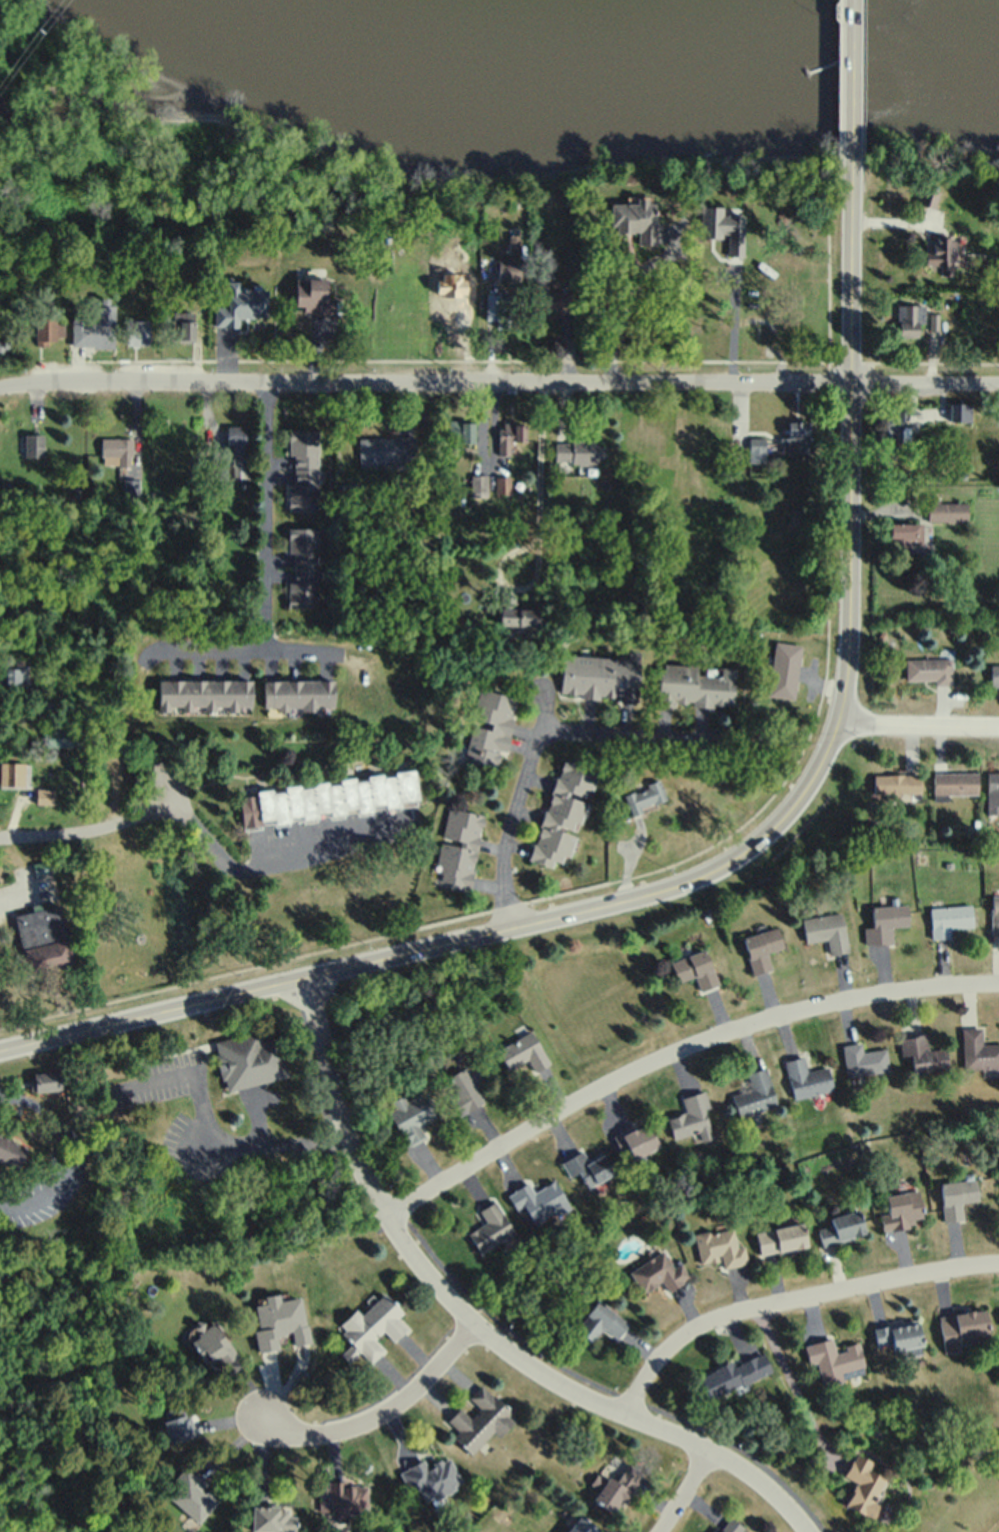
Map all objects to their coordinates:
road: (853, 91)
building: (927, 199)
building: (645, 221)
road: (895, 223)
building: (725, 228)
building: (516, 245)
building: (945, 255)
building: (508, 271)
building: (772, 276)
building: (313, 298)
building: (564, 305)
building: (238, 308)
building: (505, 313)
building: (908, 320)
building: (933, 321)
building: (182, 326)
building: (46, 330)
building: (90, 333)
building: (135, 333)
building: (4, 346)
building: (755, 350)
street lamp: (204, 367)
road: (424, 385)
road: (924, 386)
building: (959, 412)
road: (207, 422)
building: (896, 428)
building: (459, 433)
building: (511, 437)
building: (797, 439)
building: (33, 447)
building: (384, 451)
building: (756, 451)
building: (238, 452)
building: (115, 453)
building: (582, 454)
building: (214, 471)
building: (303, 471)
building: (477, 483)
building: (502, 486)
building: (129, 489)
building: (348, 489)
building: (6, 490)
building: (77, 495)
building: (946, 513)
road: (264, 518)
road: (540, 535)
building: (910, 538)
building: (302, 569)
building: (514, 612)
road: (243, 651)
building: (784, 671)
building: (929, 671)
building: (15, 673)
building: (602, 678)
building: (994, 679)
building: (695, 687)
building: (203, 695)
building: (300, 695)
building: (45, 707)
building: (490, 726)
road: (917, 727)
building: (63, 739)
street lamp: (866, 742)
road: (531, 751)
building: (13, 776)
building: (955, 784)
building: (898, 786)
building: (992, 795)
building: (45, 796)
building: (642, 799)
building: (326, 800)
road: (15, 813)
building: (562, 816)
road: (88, 831)
building: (456, 850)
road: (277, 863)
building: (43, 868)
street lamp: (666, 869)
road: (715, 870)
road: (24, 892)
parking lot: (28, 893)
street lamp: (529, 902)
building: (995, 915)
building: (950, 921)
building: (885, 925)
building: (827, 932)
building: (45, 939)
street lamp: (364, 942)
building: (762, 950)
building: (695, 970)
road: (674, 1047)
building: (977, 1049)
building: (526, 1051)
building: (922, 1053)
building: (863, 1059)
building: (249, 1062)
building: (806, 1077)
building: (45, 1084)
building: (463, 1087)
building: (754, 1093)
building: (412, 1116)
building: (690, 1116)
road: (254, 1118)
building: (636, 1138)
road: (220, 1143)
building: (10, 1151)
road: (57, 1152)
building: (586, 1165)
building: (956, 1195)
building: (537, 1201)
building: (902, 1208)
building: (841, 1226)
building: (492, 1231)
building: (780, 1238)
building: (719, 1246)
building: (657, 1272)
road: (787, 1294)
building: (600, 1320)
building: (278, 1323)
road: (478, 1324)
building: (374, 1327)
building: (963, 1328)
building: (899, 1333)
building: (212, 1345)
building: (834, 1358)
building: (733, 1372)
road: (790, 1380)
road: (605, 1388)
road: (381, 1414)
building: (479, 1419)
building: (179, 1421)
building: (430, 1477)
building: (616, 1482)
building: (863, 1485)
road: (680, 1489)
building: (194, 1496)
building: (345, 1498)
building: (270, 1519)
building: (581, 1525)
building: (732, 1526)

